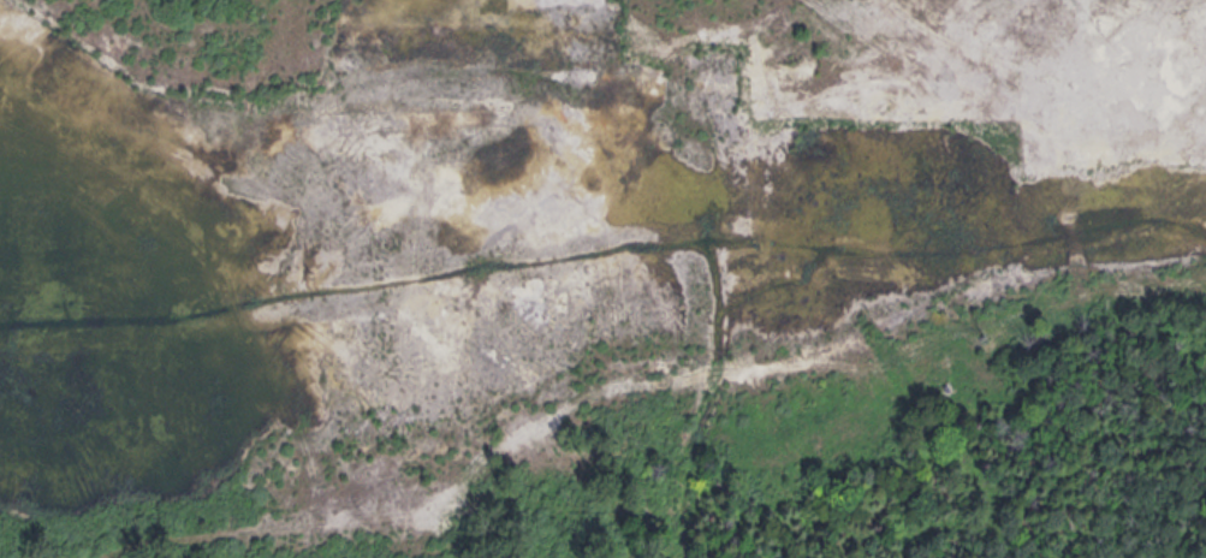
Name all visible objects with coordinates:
road: (1151, 14)

